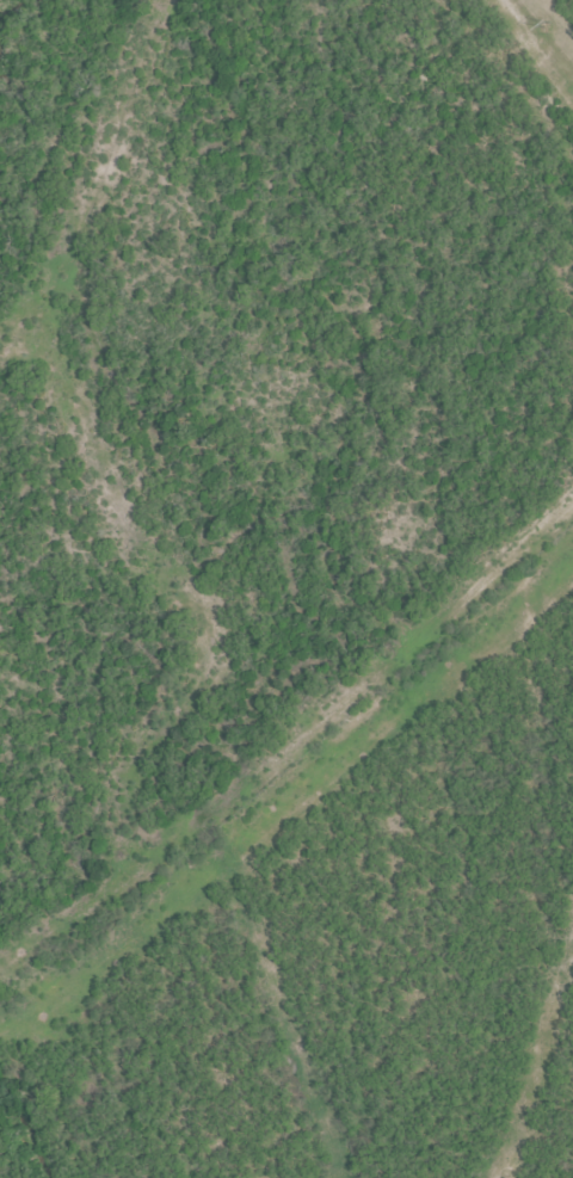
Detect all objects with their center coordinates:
power tower: (544, 25)

